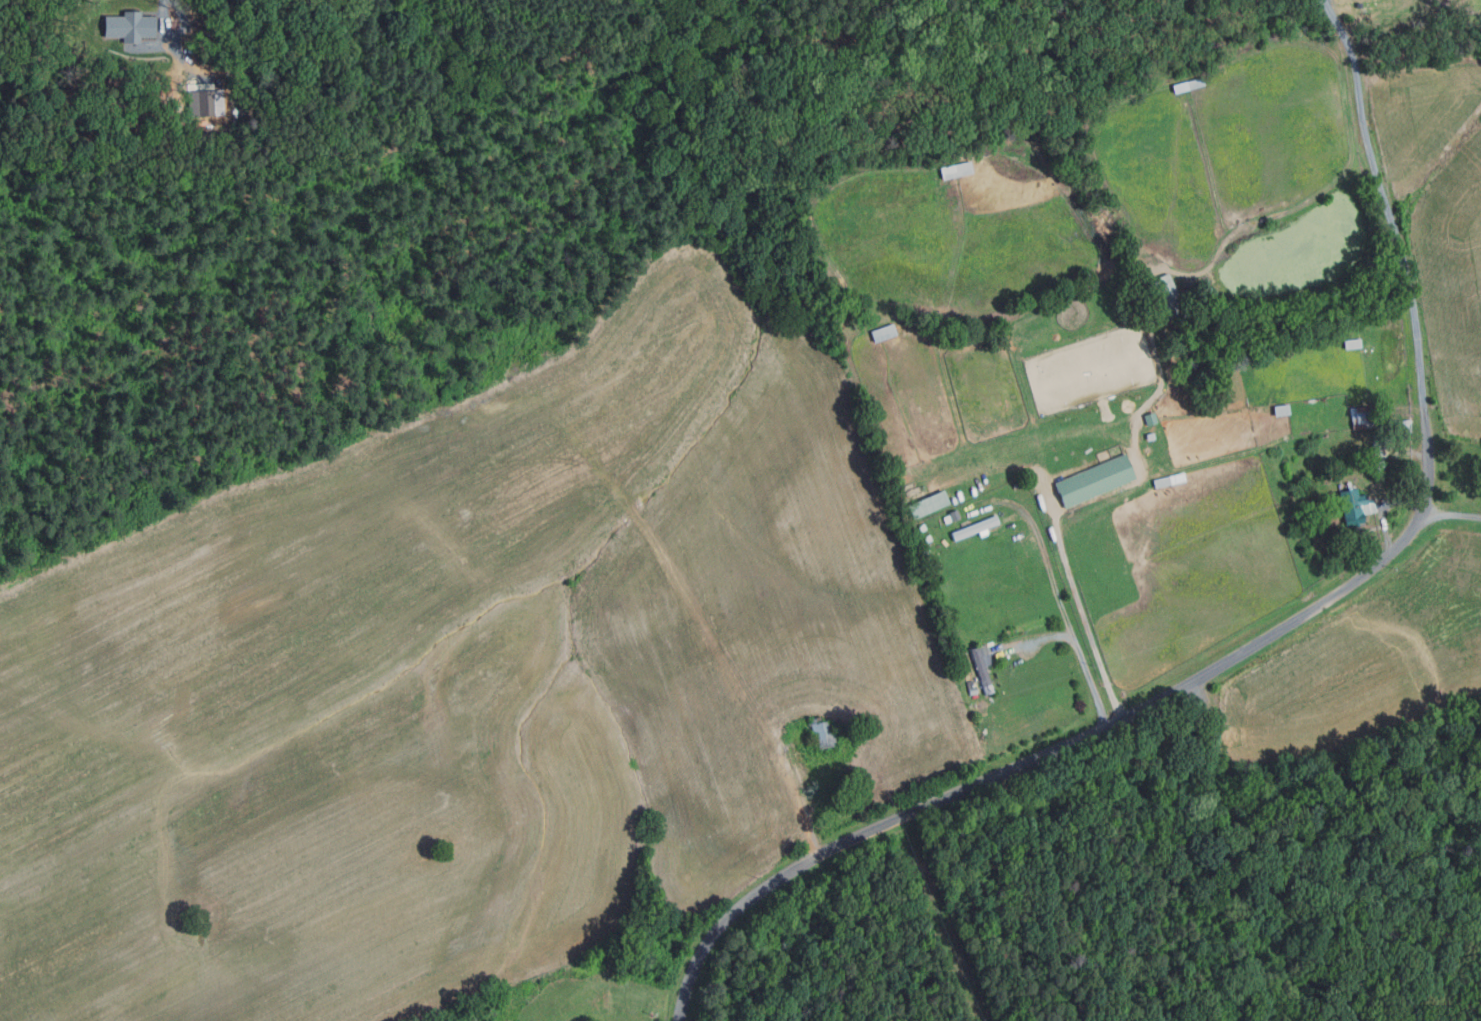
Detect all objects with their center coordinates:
building: (127, 26)
building: (1188, 85)
building: (201, 103)
building: (954, 170)
road: (1398, 244)
building: (1167, 297)
building: (882, 333)
building: (998, 343)
building: (1351, 343)
building: (1280, 410)
building: (1149, 418)
building: (1360, 418)
building: (1403, 427)
building: (1149, 437)
building: (1379, 445)
building: (1166, 480)
building: (1094, 481)
building: (1018, 485)
building: (926, 505)
building: (1353, 505)
road: (1384, 508)
road: (1450, 513)
building: (954, 516)
building: (921, 527)
building: (973, 527)
building: (926, 539)
building: (922, 554)
road: (1047, 564)
road: (1080, 607)
road: (1044, 639)
building: (980, 668)
road: (1090, 682)
building: (970, 688)
building: (820, 731)
road: (1039, 755)
road: (802, 800)

